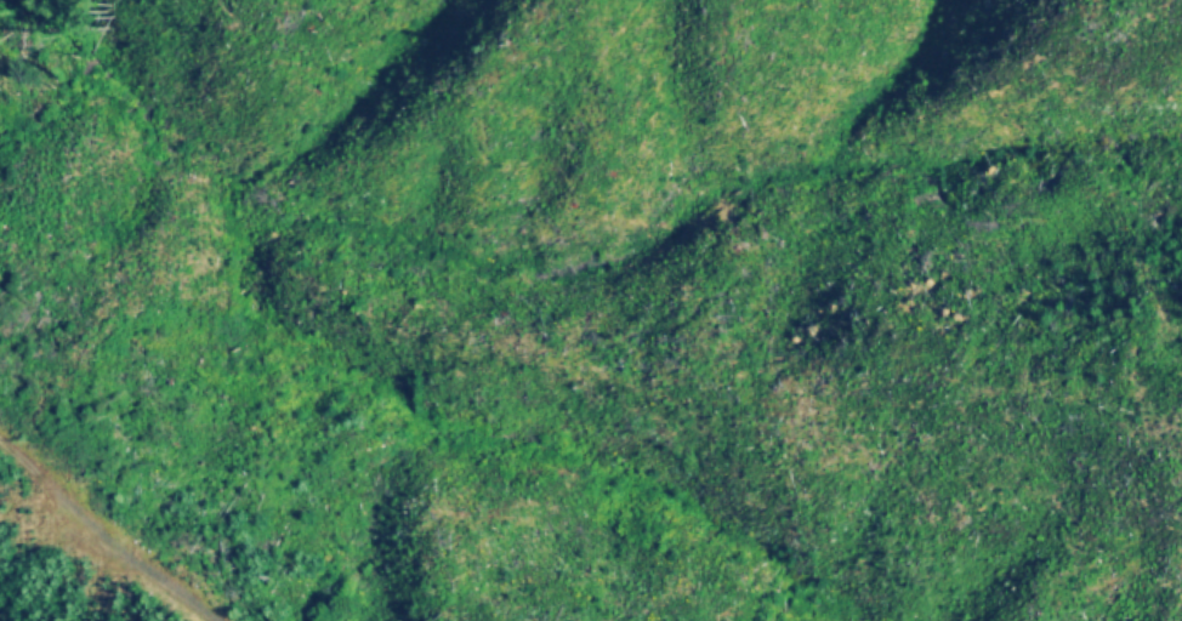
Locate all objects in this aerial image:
road: (104, 526)

